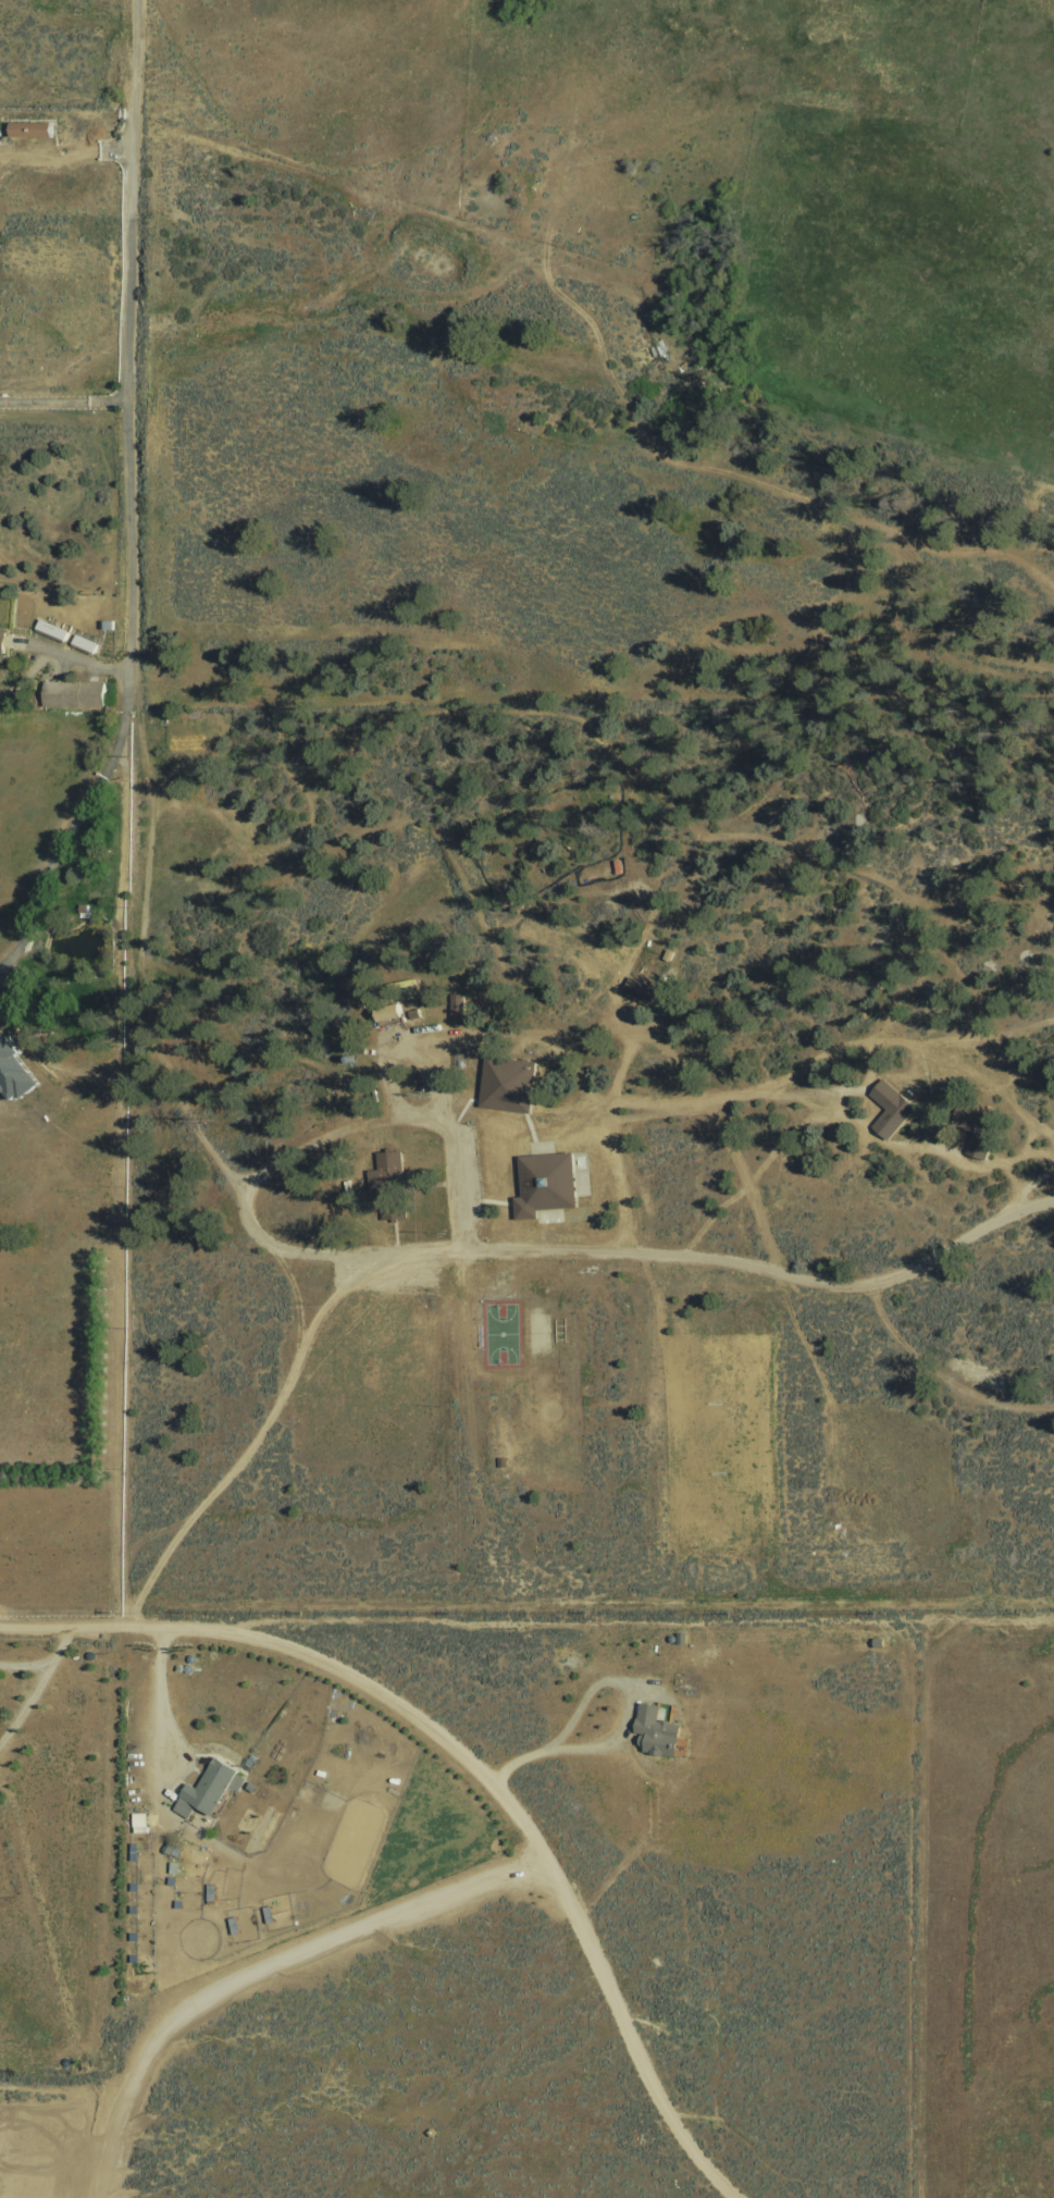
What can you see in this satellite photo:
building: (30, 129)
road: (122, 356)
road: (61, 405)
building: (49, 630)
building: (83, 644)
building: (1, 645)
road: (76, 659)
building: (72, 695)
road: (66, 842)
building: (636, 992)
building: (456, 1007)
building: (384, 1015)
road: (1039, 1025)
building: (13, 1074)
building: (506, 1084)
road: (616, 1091)
building: (889, 1108)
road: (841, 1111)
road: (401, 1117)
building: (977, 1131)
building: (544, 1184)
road: (1030, 1186)
road: (635, 1258)
road: (255, 1441)
road: (158, 1695)
building: (657, 1730)
road: (472, 1765)
building: (210, 1789)
building: (139, 1822)
building: (170, 1847)
road: (261, 1972)

